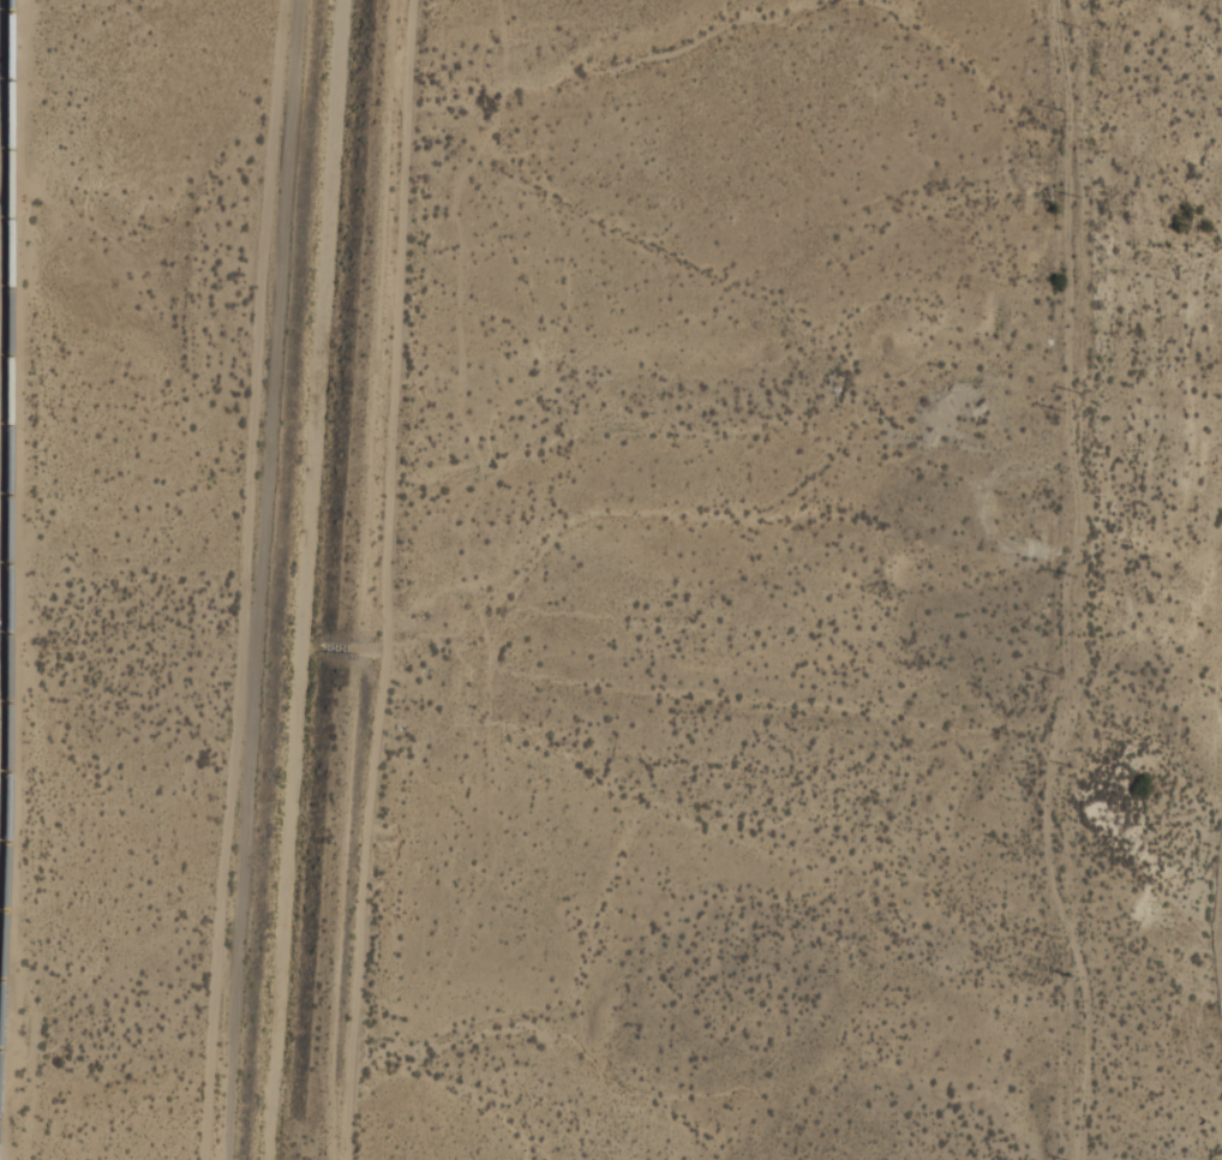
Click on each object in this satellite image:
railway: (11, 530)

